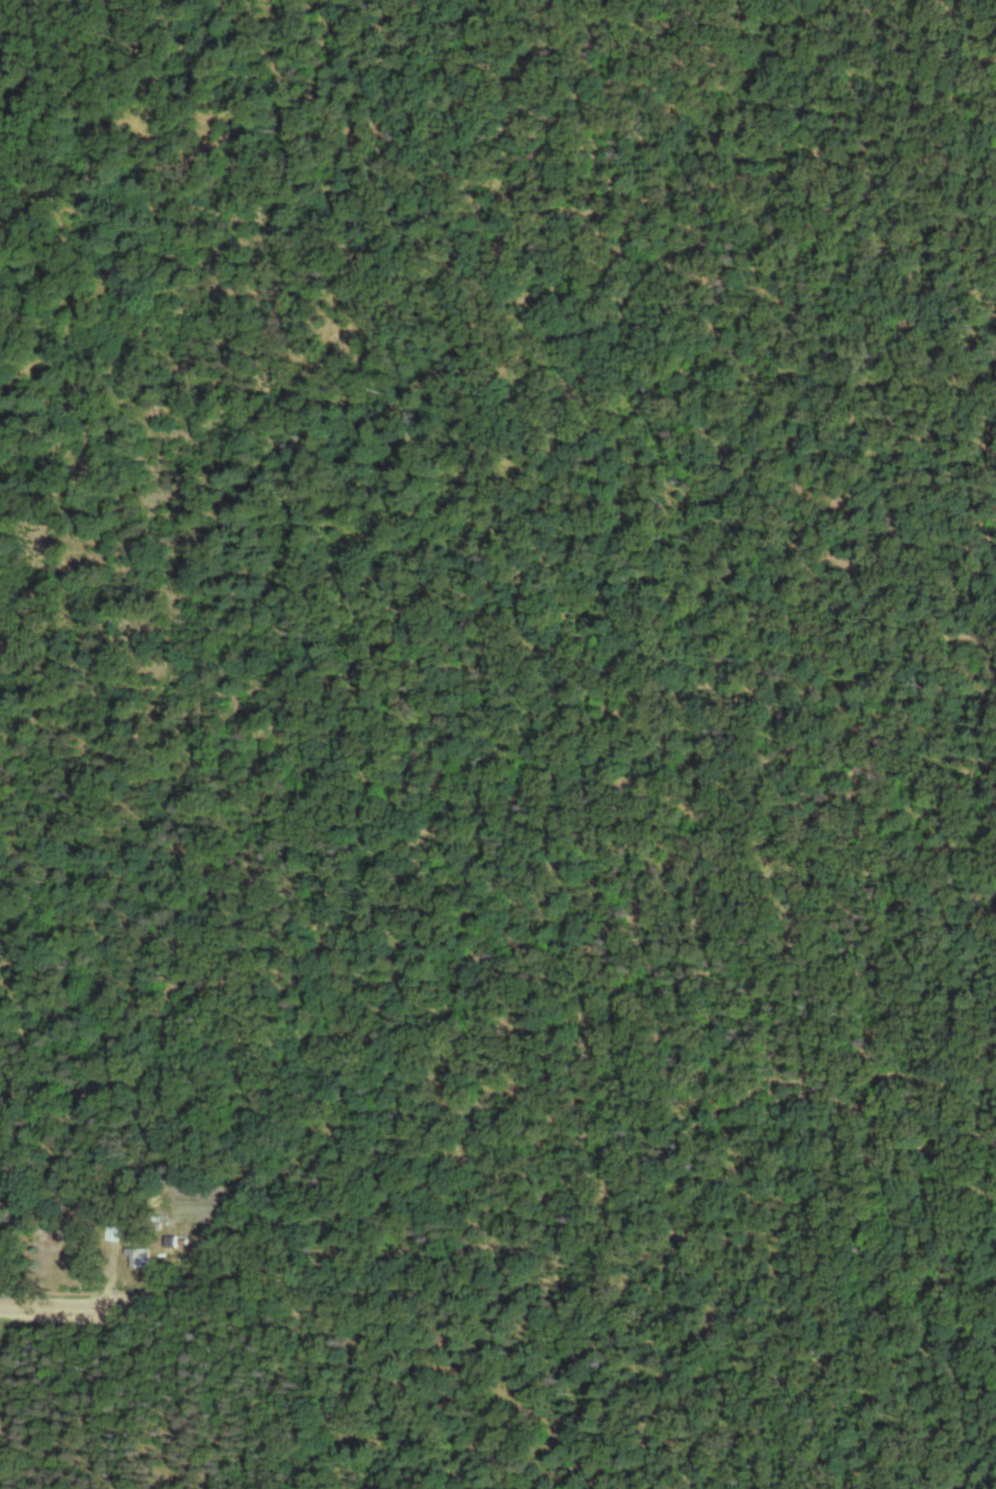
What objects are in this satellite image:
building: (147, 1259)
road: (549, 1272)
road: (54, 1299)

